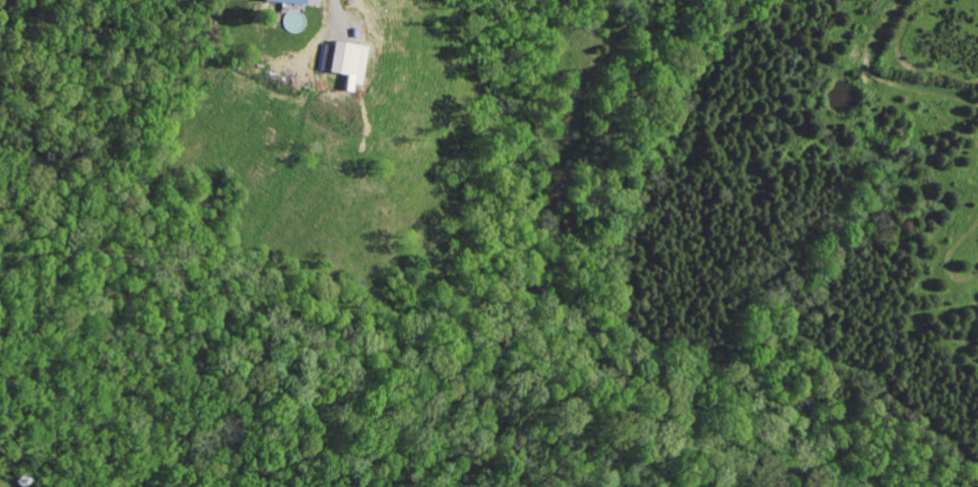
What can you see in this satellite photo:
building: (285, 1)
building: (347, 63)

